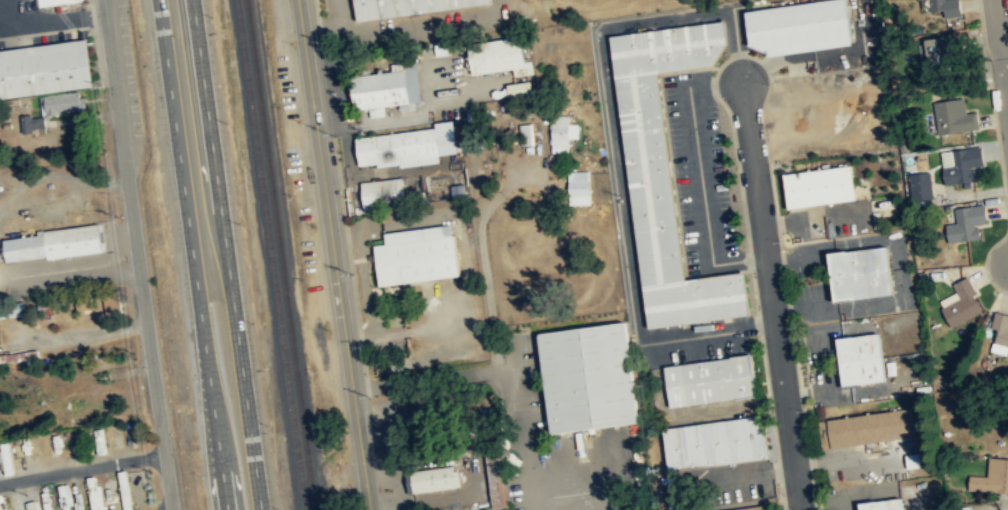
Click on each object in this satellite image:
building: (51, 1)
building: (948, 7)
building: (407, 8)
road: (52, 20)
building: (795, 26)
building: (946, 50)
road: (1001, 50)
building: (501, 57)
road: (1006, 67)
building: (44, 68)
parking lot: (131, 75)
building: (391, 89)
building: (522, 89)
building: (54, 109)
building: (955, 117)
building: (562, 133)
building: (397, 149)
building: (963, 165)
building: (662, 173)
building: (816, 186)
building: (922, 186)
building: (581, 188)
building: (383, 196)
building: (969, 223)
building: (55, 244)
road: (233, 254)
railway: (280, 254)
road: (136, 255)
road: (193, 255)
railway: (271, 255)
road: (332, 255)
building: (417, 257)
road: (69, 273)
building: (856, 274)
road: (771, 294)
building: (114, 303)
building: (963, 303)
building: (1001, 334)
building: (857, 359)
building: (587, 379)
building: (709, 382)
building: (420, 415)
building: (864, 429)
building: (716, 443)
road: (82, 467)
building: (992, 478)
building: (497, 480)
building: (433, 481)
building: (96, 493)
building: (65, 496)
building: (2, 503)
building: (33, 505)
building: (879, 505)
building: (755, 508)

